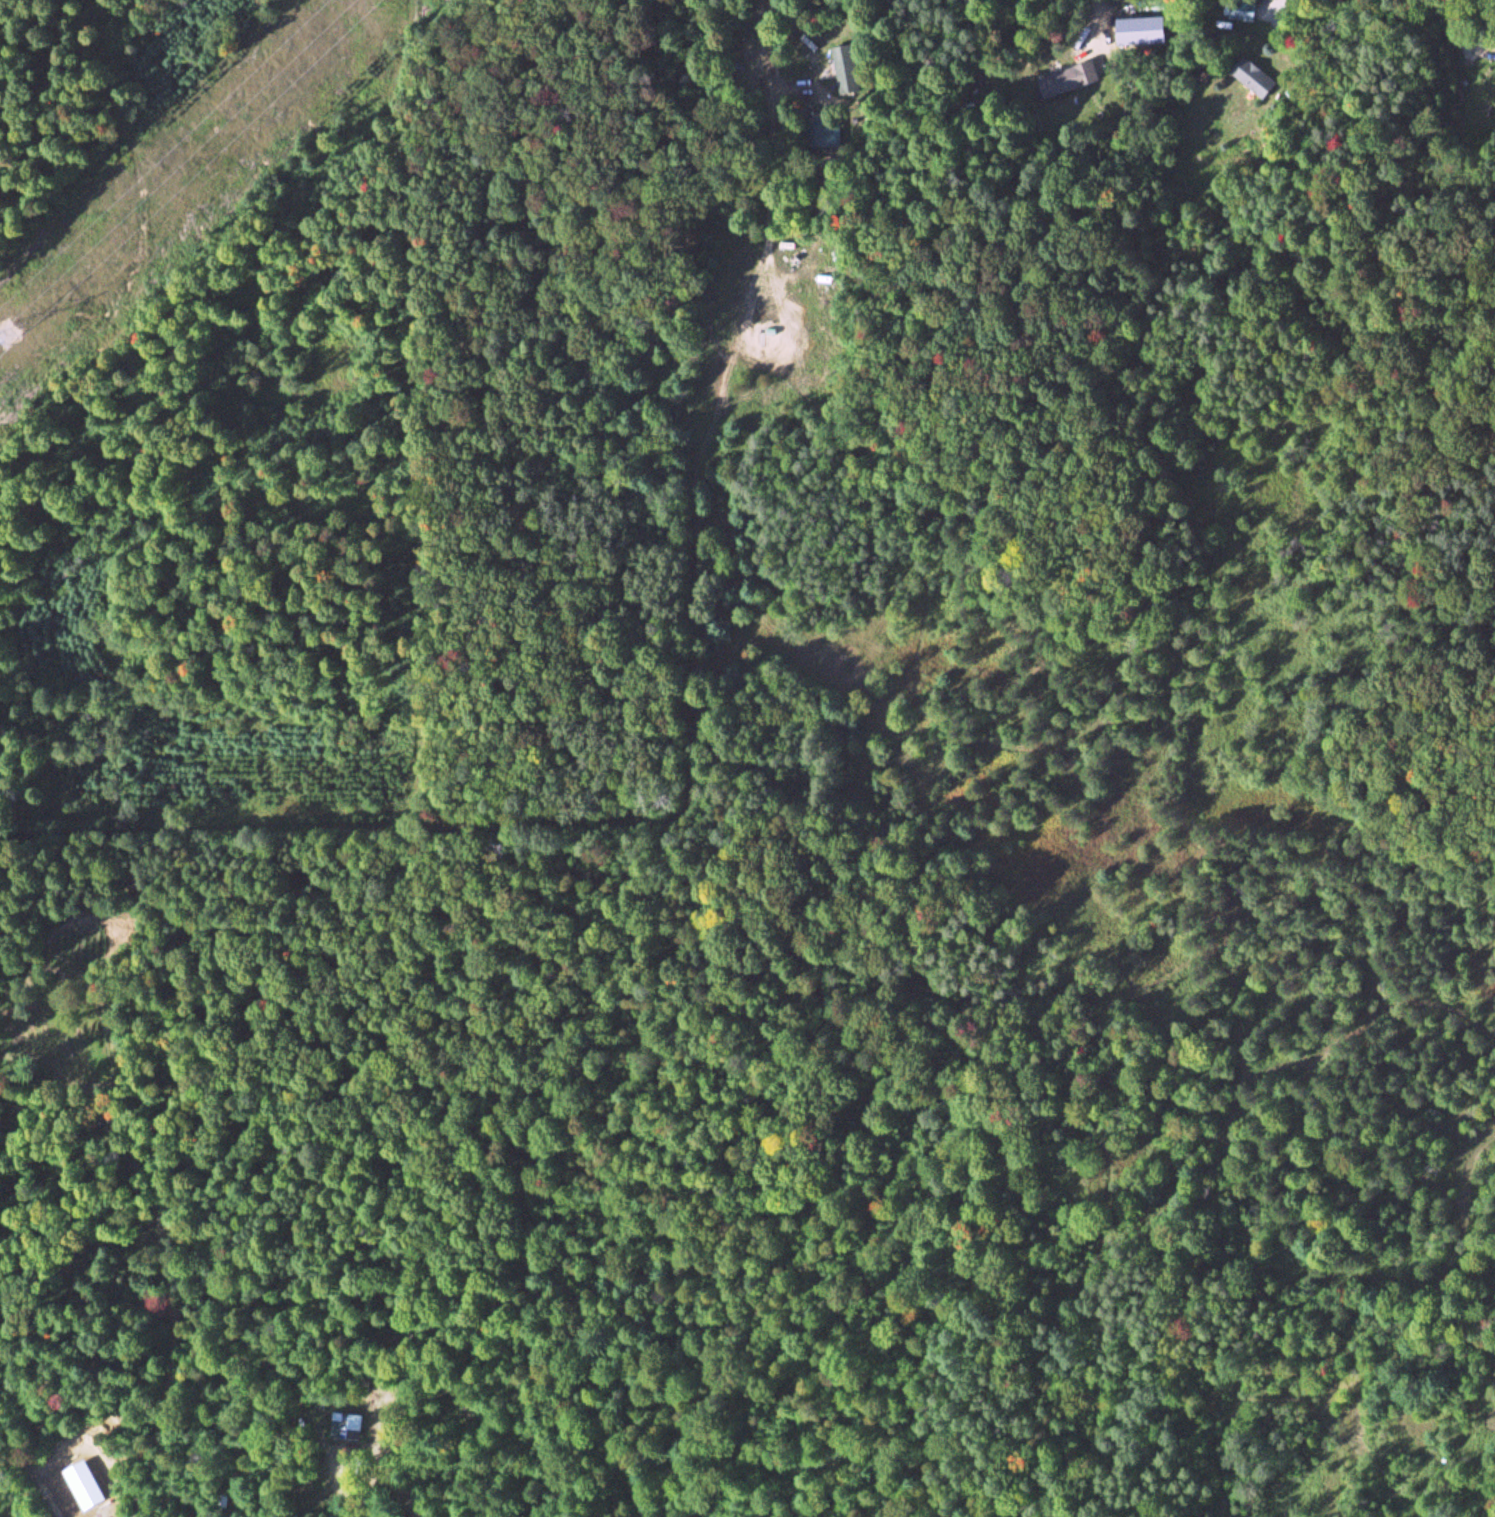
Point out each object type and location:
building: (1246, 19)
building: (1262, 80)
building: (1076, 81)
building: (830, 133)
road: (879, 137)
road: (1138, 138)
power tower: (9, 331)
road: (419, 613)

